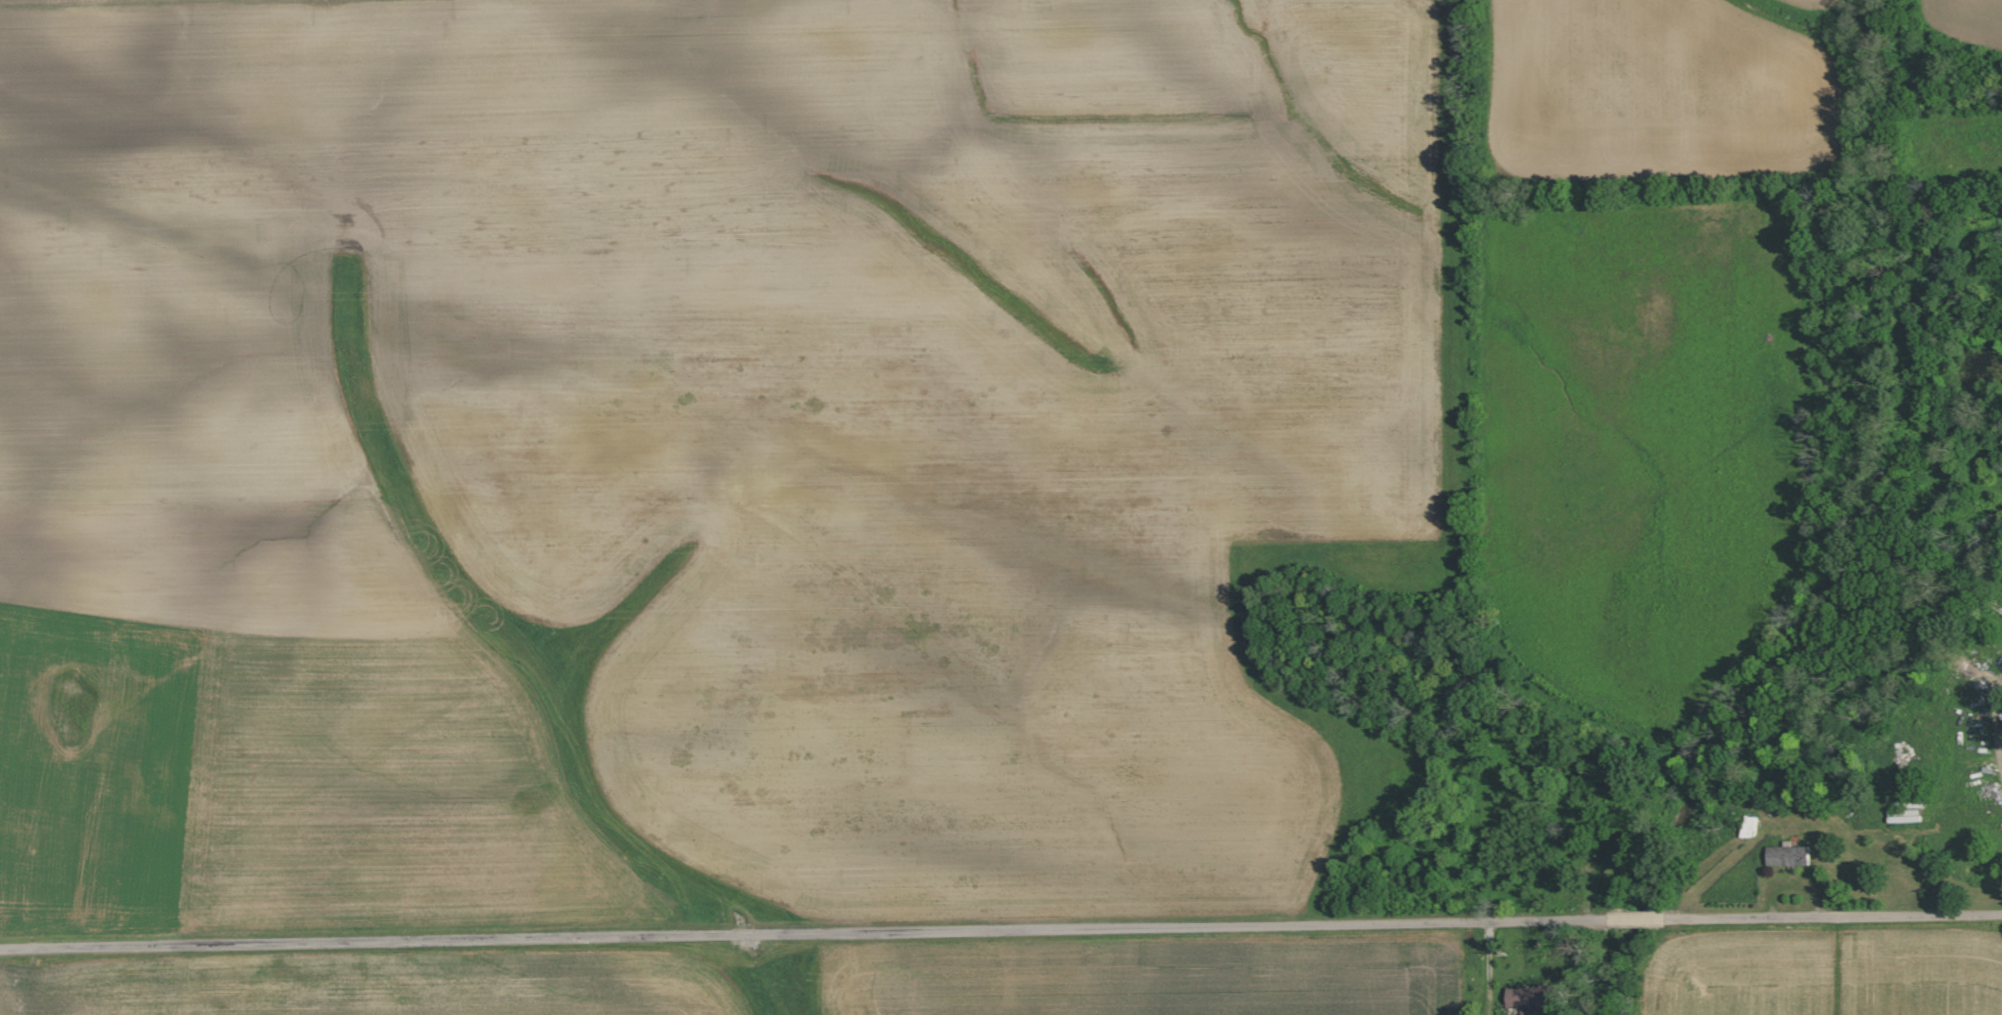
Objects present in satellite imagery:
building: (1785, 856)
road: (1000, 929)

